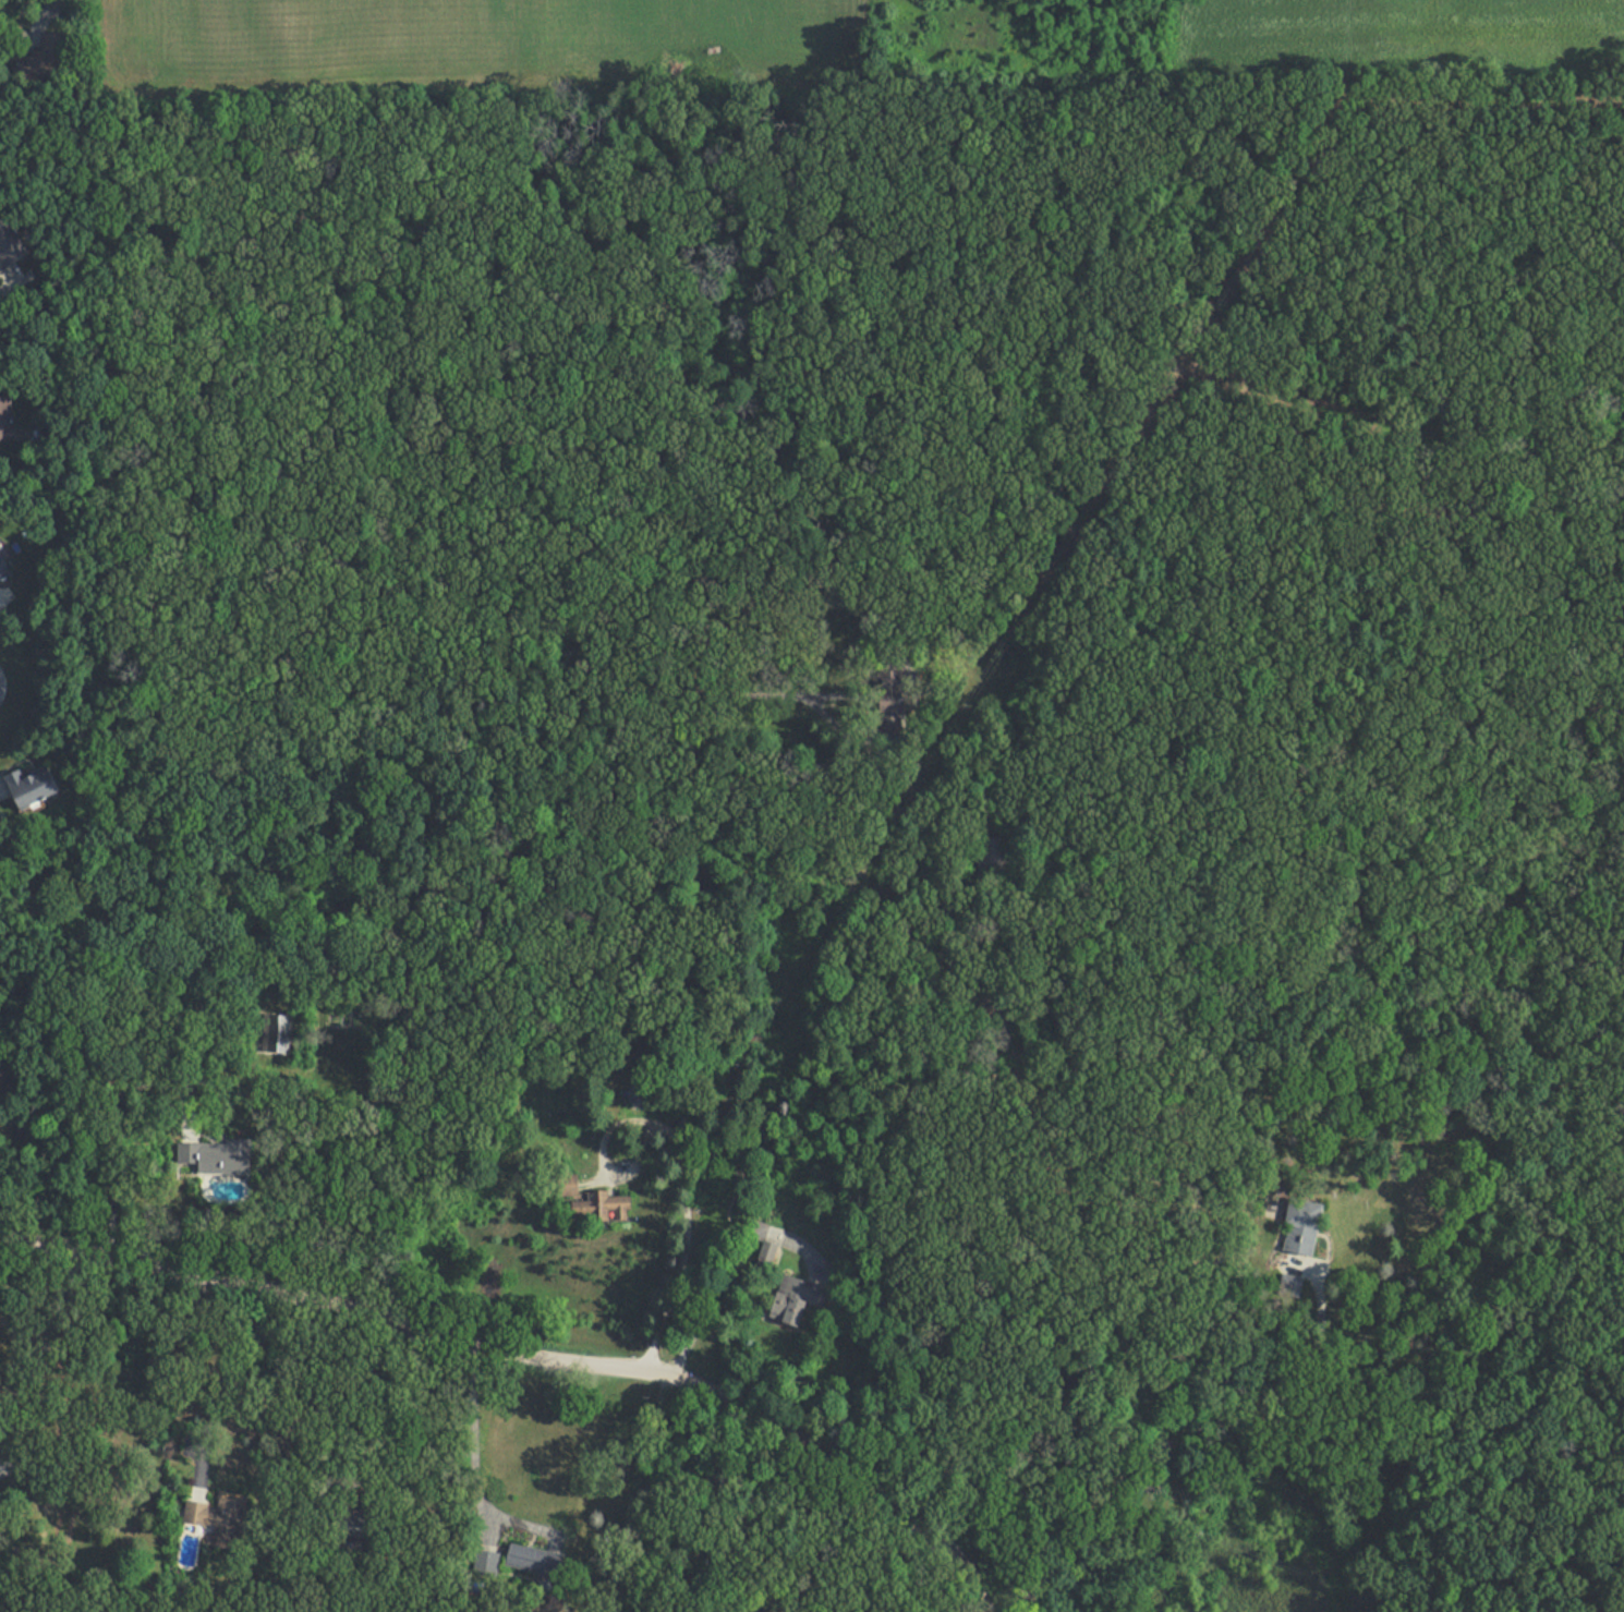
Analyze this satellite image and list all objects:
road: (50, 7)
building: (50, 52)
building: (8, 243)
road: (9, 280)
building: (4, 419)
building: (2, 569)
building: (884, 690)
building: (32, 787)
road: (693, 963)
building: (635, 1092)
building: (217, 1159)
building: (568, 1185)
building: (607, 1205)
building: (1302, 1227)
road: (727, 1266)
building: (795, 1299)
road: (533, 1355)
road: (240, 1414)
road: (1176, 1442)
road: (476, 1456)
building: (191, 1512)
building: (355, 1526)
road: (750, 1526)
building: (519, 1559)

